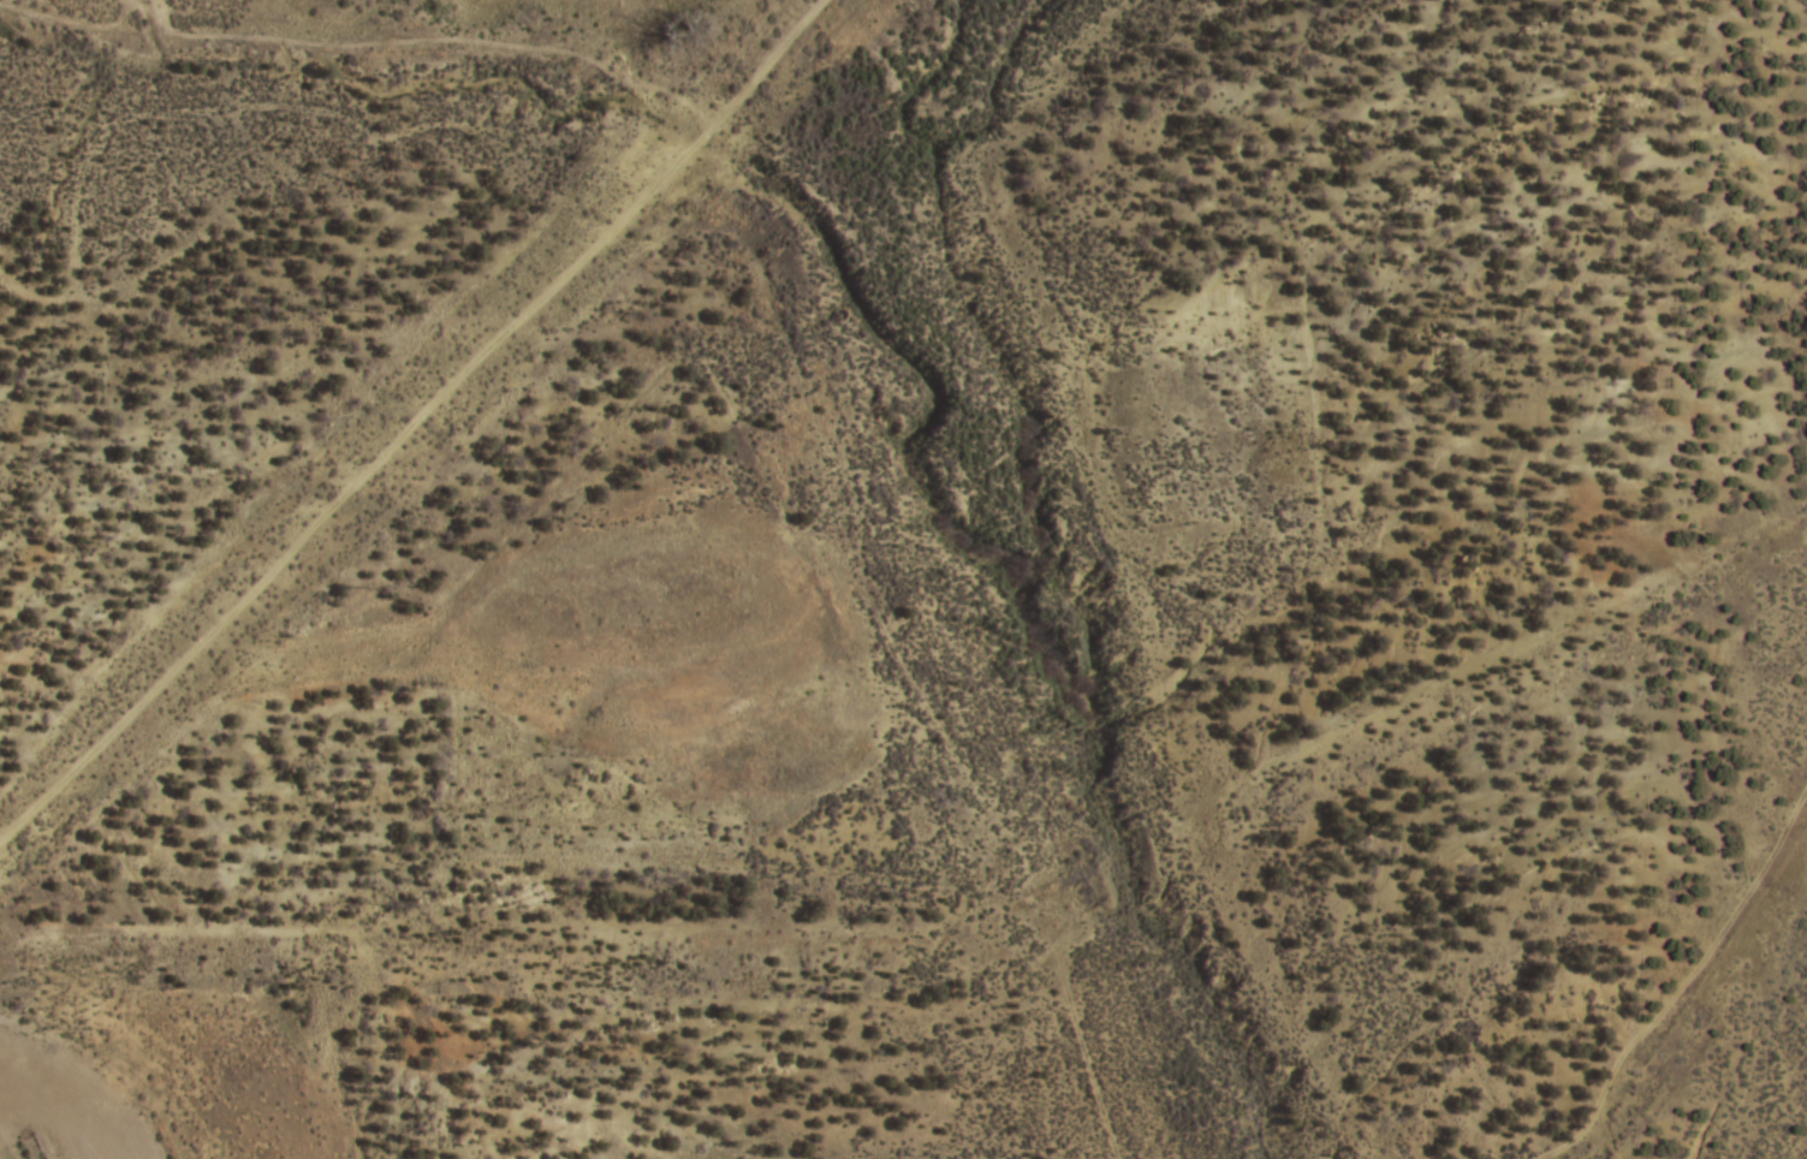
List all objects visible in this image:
road: (412, 422)

